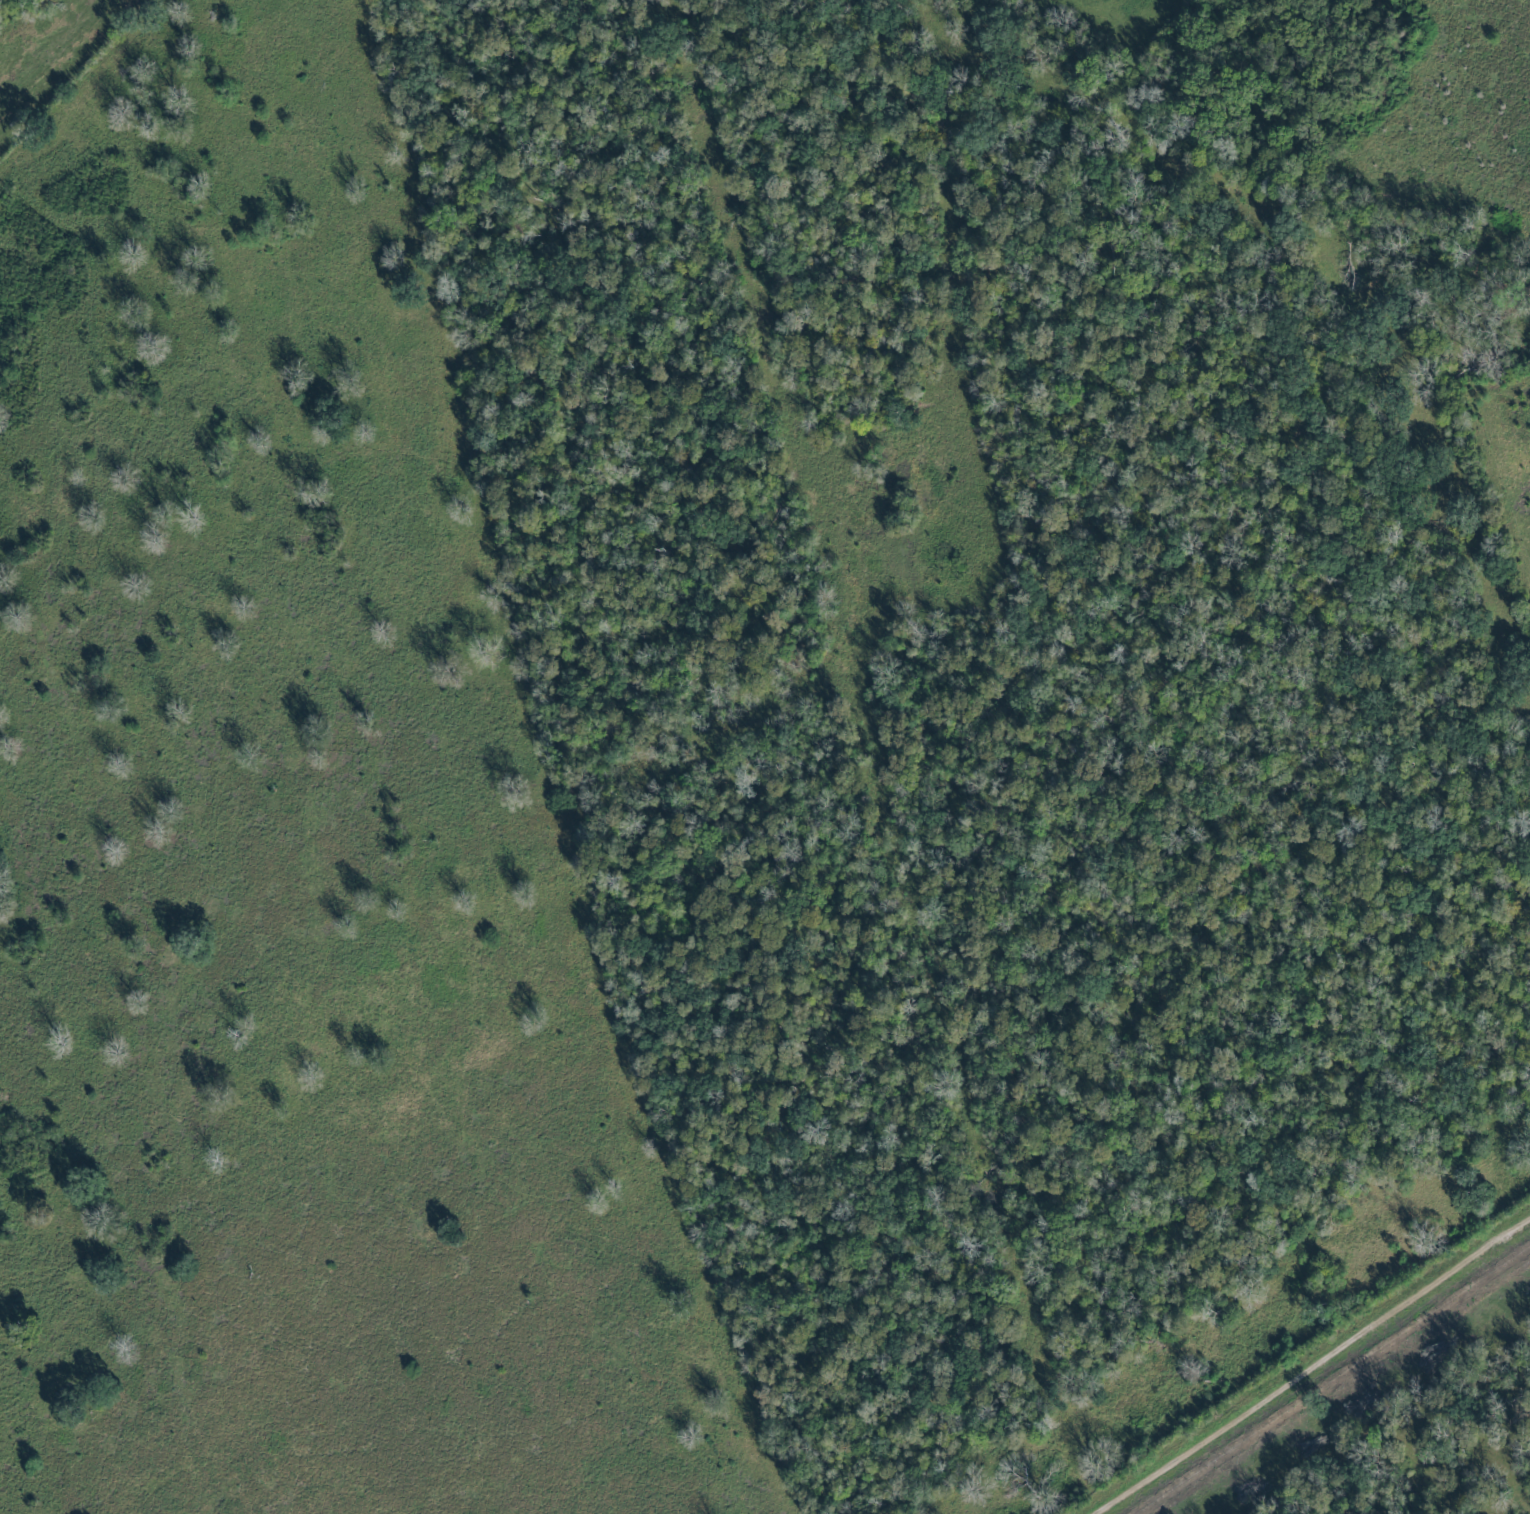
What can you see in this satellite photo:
road: (1318, 1370)

